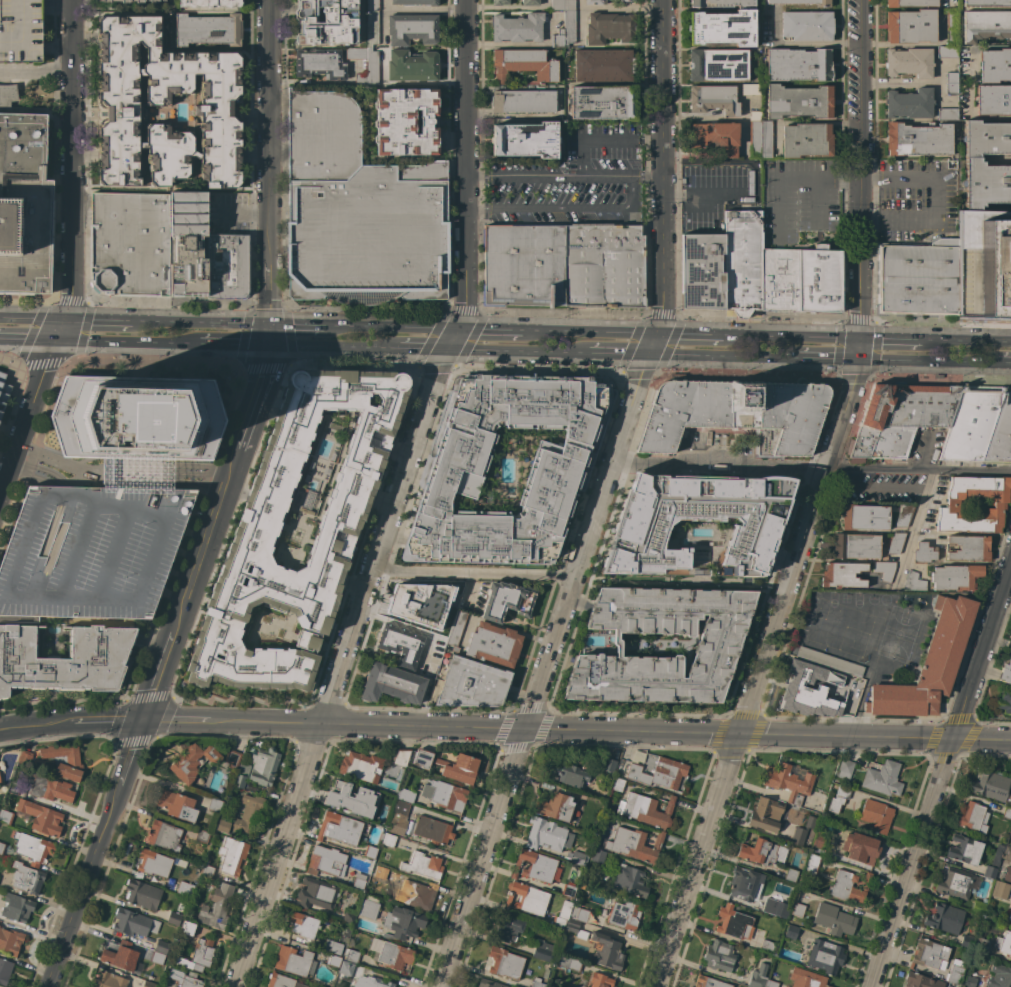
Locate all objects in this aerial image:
building: (153, 0)
building: (163, 0)
building: (627, 0)
building: (107, 2)
building: (414, 2)
building: (500, 2)
building: (530, 2)
building: (594, 2)
building: (802, 2)
building: (210, 3)
building: (724, 3)
building: (911, 3)
building: (987, 3)
road: (580, 4)
building: (373, 5)
building: (563, 5)
road: (606, 8)
building: (328, 22)
building: (807, 26)
building: (911, 26)
building: (986, 26)
building: (518, 27)
building: (952, 27)
building: (372, 28)
building: (610, 28)
building: (723, 28)
building: (208, 29)
building: (412, 29)
building: (21, 31)
parking garage: (21, 31)
building: (565, 31)
road: (801, 44)
building: (948, 51)
building: (910, 62)
building: (320, 63)
building: (525, 64)
building: (718, 64)
building: (412, 65)
building: (604, 65)
building: (799, 65)
building: (995, 65)
building: (373, 66)
road: (35, 74)
building: (952, 83)
road: (859, 88)
building: (751, 89)
building: (714, 99)
building: (994, 100)
building: (524, 101)
building: (799, 101)
building: (222, 102)
building: (603, 102)
building: (911, 103)
building: (948, 114)
building: (407, 122)
building: (760, 136)
building: (716, 137)
building: (986, 138)
building: (526, 139)
building: (919, 139)
building: (807, 140)
road: (603, 141)
road: (562, 176)
road: (812, 176)
road: (852, 178)
road: (869, 178)
road: (909, 178)
building: (986, 183)
road: (701, 194)
building: (24, 199)
road: (816, 200)
road: (939, 201)
road: (779, 207)
road: (563, 208)
road: (247, 210)
building: (359, 212)
road: (831, 223)
road: (863, 223)
road: (909, 223)
building: (163, 248)
road: (69, 251)
road: (859, 258)
building: (743, 261)
building: (984, 263)
building: (524, 265)
building: (604, 265)
building: (703, 271)
building: (918, 278)
building: (780, 280)
building: (820, 280)
road: (27, 300)
building: (139, 301)
road: (34, 319)
traffic signals: (69, 320)
road: (105, 321)
road: (206, 323)
traffic signals: (272, 324)
road: (303, 325)
road: (397, 327)
traffic signals: (459, 329)
road: (490, 329)
road: (590, 331)
traffic signals: (658, 333)
road: (690, 334)
road: (791, 337)
traffic signals: (859, 339)
road: (890, 340)
traffic signals: (56, 341)
road: (97, 341)
road: (966, 341)
road: (233, 343)
traffic signals: (271, 344)
road: (330, 345)
road: (415, 348)
traffic signals: (441, 349)
road: (513, 351)
road: (617, 355)
traffic signals: (650, 356)
road: (724, 358)
road: (827, 360)
traffic signals: (857, 361)
road: (927, 363)
road: (1004, 365)
road: (266, 370)
building: (3, 392)
building: (736, 413)
building: (138, 418)
building: (900, 418)
building: (972, 423)
helipad: (140, 427)
building: (1001, 432)
road: (924, 452)
road: (813, 467)
road: (54, 468)
building: (559, 468)
building: (138, 473)
road: (396, 499)
road: (603, 502)
building: (998, 504)
building: (904, 515)
road: (918, 515)
building: (865, 517)
building: (696, 525)
building: (256, 532)
building: (896, 543)
building: (856, 546)
building: (968, 548)
building: (91, 552)
parking garage: (91, 552)
building: (925, 552)
building: (885, 570)
road: (477, 575)
building: (843, 575)
building: (956, 577)
building: (914, 582)
building: (508, 600)
building: (457, 630)
building: (401, 644)
building: (440, 644)
building: (494, 644)
building: (716, 649)
building: (64, 659)
building: (827, 660)
building: (792, 661)
road: (756, 662)
building: (929, 664)
building: (1006, 666)
building: (428, 670)
building: (392, 684)
building: (472, 684)
building: (848, 694)
building: (808, 697)
building: (1005, 701)
road: (505, 732)
road: (134, 749)
building: (402, 757)
building: (26, 758)
building: (423, 758)
building: (233, 759)
building: (65, 760)
building: (193, 762)
building: (609, 765)
building: (265, 766)
building: (361, 766)
building: (459, 768)
building: (845, 769)
building: (660, 772)
building: (399, 774)
building: (570, 774)
building: (242, 775)
building: (0, 778)
building: (883, 778)
road: (941, 778)
building: (788, 782)
building: (618, 784)
building: (991, 786)
building: (15, 787)
building: (48, 787)
building: (349, 794)
building: (406, 795)
building: (445, 795)
building: (839, 799)
building: (177, 805)
building: (215, 805)
building: (556, 807)
building: (646, 809)
building: (1007, 812)
building: (248, 814)
building: (766, 814)
building: (6, 816)
building: (877, 816)
building: (42, 817)
building: (973, 817)
building: (418, 825)
building: (222, 826)
building: (340, 828)
building: (803, 831)
building: (0, 835)
building: (548, 835)
building: (166, 836)
building: (202, 836)
building: (387, 839)
building: (818, 840)
building: (634, 844)
building: (2, 848)
building: (33, 848)
building: (862, 848)
building: (965, 850)
building: (758, 851)
building: (371, 852)
building: (232, 855)
building: (596, 855)
building: (578, 857)
building: (327, 861)
building: (154, 863)
building: (994, 863)
building: (423, 865)
building: (812, 866)
building: (1006, 866)
building: (537, 867)
building: (208, 869)
building: (381, 872)
building: (791, 875)
building: (27, 878)
building: (630, 881)
building: (359, 882)
road: (87, 883)
building: (745, 883)
building: (955, 883)
building: (849, 886)
building: (186, 888)
building: (1000, 889)
building: (568, 890)
building: (143, 894)
building: (317, 894)
building: (419, 894)
building: (527, 899)
building: (978, 906)
building: (217, 907)
building: (16, 908)
building: (777, 908)
building: (369, 909)
building: (798, 909)
building: (579, 914)
building: (1009, 914)
building: (562, 915)
building: (624, 915)
building: (349, 916)
building: (174, 918)
building: (944, 918)
building: (834, 919)
building: (734, 922)
building: (134, 923)
building: (403, 923)
building: (303, 925)
building: (187, 927)
building: (509, 928)
building: (576, 928)
building: (790, 931)
building: (10, 941)
building: (968, 942)
building: (1004, 943)
building: (981, 945)
building: (162, 946)
building: (767, 946)
building: (333, 947)
building: (545, 951)
building: (606, 952)
building: (391, 953)
building: (930, 954)
building: (201, 955)
building: (352, 955)
building: (719, 955)
building: (121, 956)
building: (825, 956)
building: (157, 958)
building: (334, 960)
building: (295, 961)
building: (503, 963)
building: (568, 963)
building: (959, 964)
building: (346, 969)
building: (5, 971)
building: (546, 973)
building: (955, 975)
building: (758, 976)
building: (999, 976)
building: (185, 978)
building: (807, 978)
building: (108, 980)
building: (279, 980)
building: (601, 980)
building: (372, 981)
building: (921, 981)
building: (709, 982)
building: (972, 982)
building: (489, 983)
building: (537, 983)
building: (770, 983)
building: (149, 984)
building: (949, 986)

